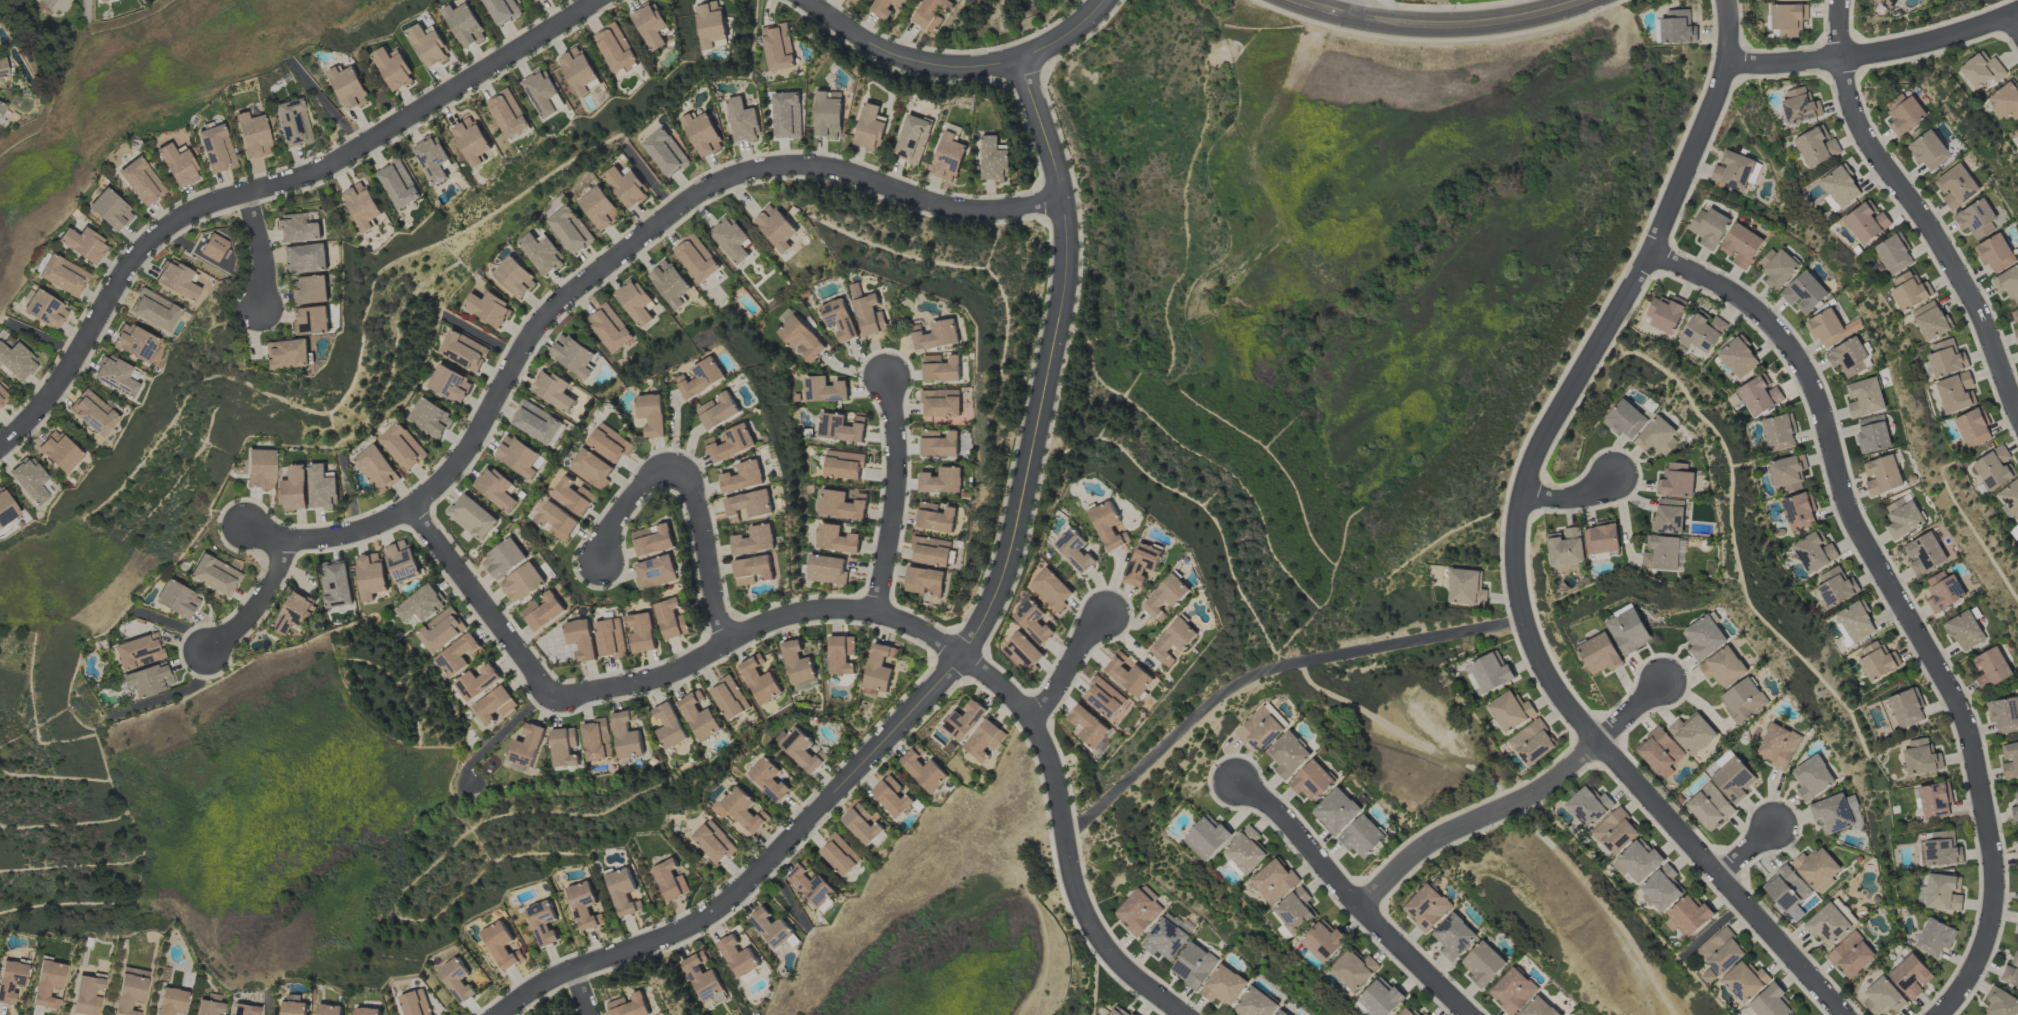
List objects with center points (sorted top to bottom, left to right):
building: (100, 0)
building: (532, 0)
building: (1790, 0)
building: (858, 1)
building: (1887, 3)
building: (55, 5)
building: (887, 6)
road: (1357, 7)
building: (502, 10)
building: (932, 14)
road: (2016, 16)
building: (1787, 19)
building: (464, 24)
building: (710, 24)
building: (651, 25)
road: (1446, 25)
building: (1677, 28)
building: (429, 46)
building: (615, 47)
building: (777, 47)
road: (1876, 52)
road: (959, 66)
building: (393, 68)
building: (3, 69)
building: (580, 71)
building: (1980, 71)
building: (349, 87)
building: (542, 92)
building: (2004, 102)
building: (1799, 106)
building: (1, 107)
building: (508, 113)
building: (827, 114)
building: (787, 115)
building: (1906, 115)
building: (742, 121)
building: (292, 123)
building: (870, 128)
building: (2016, 132)
building: (702, 134)
building: (252, 135)
building: (913, 139)
building: (472, 141)
building: (1816, 147)
building: (216, 149)
building: (1929, 150)
building: (665, 152)
building: (948, 157)
building: (433, 159)
building: (993, 160)
building: (177, 165)
building: (1732, 171)
building: (141, 181)
building: (399, 184)
building: (626, 187)
building: (1956, 187)
road: (265, 188)
building: (1839, 188)
road: (1918, 205)
building: (363, 206)
building: (599, 208)
building: (109, 210)
building: (1976, 219)
building: (1865, 223)
building: (776, 227)
building: (298, 228)
building: (1709, 228)
building: (570, 229)
building: (730, 239)
building: (83, 244)
building: (1741, 245)
building: (209, 247)
road: (261, 248)
building: (541, 252)
building: (1995, 253)
building: (1892, 255)
building: (696, 258)
building: (305, 259)
road: (609, 261)
building: (1778, 268)
building: (63, 275)
building: (514, 278)
building: (176, 280)
building: (669, 283)
building: (2008, 283)
building: (309, 290)
building: (1909, 291)
building: (1804, 293)
building: (635, 302)
building: (488, 308)
building: (45, 310)
building: (154, 310)
building: (868, 312)
building: (1665, 313)
building: (2016, 314)
building: (839, 320)
building: (310, 321)
building: (1930, 321)
building: (609, 327)
building: (1701, 333)
building: (2015, 333)
building: (937, 335)
building: (801, 339)
building: (134, 342)
building: (463, 351)
building: (287, 354)
building: (572, 355)
building: (1848, 357)
building: (1737, 358)
building: (1945, 358)
building: (16, 361)
building: (942, 368)
building: (115, 376)
building: (702, 378)
building: (449, 384)
building: (823, 389)
building: (553, 390)
building: (1954, 392)
building: (1759, 395)
building: (3, 396)
building: (1865, 397)
building: (941, 403)
building: (718, 410)
building: (92, 413)
building: (651, 414)
building: (430, 417)
building: (1625, 419)
building: (538, 423)
building: (840, 427)
building: (1972, 428)
building: (1778, 433)
building: (1873, 434)
building: (1657, 436)
building: (609, 443)
building: (731, 443)
building: (940, 443)
building: (402, 446)
building: (59, 451)
building: (519, 457)
building: (843, 465)
building: (591, 468)
building: (260, 469)
building: (377, 469)
building: (1994, 469)
building: (1785, 473)
building: (1883, 475)
building: (743, 477)
building: (30, 479)
building: (943, 480)
building: (1676, 481)
building: (321, 488)
building: (294, 489)
building: (495, 489)
road: (897, 492)
building: (573, 495)
building: (2010, 498)
road: (1573, 500)
building: (749, 505)
building: (841, 505)
building: (6, 507)
road: (628, 509)
building: (1797, 512)
building: (472, 516)
building: (1668, 516)
building: (936, 517)
building: (1904, 520)
building: (556, 521)
building: (1109, 526)
building: (2017, 527)
building: (1601, 538)
building: (653, 539)
building: (836, 539)
building: (754, 540)
road: (1516, 542)
building: (1565, 547)
road: (707, 551)
building: (931, 551)
building: (1075, 551)
building: (1814, 552)
building: (1660, 553)
building: (1925, 554)
building: (504, 559)
building: (401, 561)
building: (1144, 563)
building: (752, 569)
building: (826, 569)
building: (655, 572)
building: (215, 575)
building: (370, 575)
building: (924, 580)
building: (522, 582)
building: (336, 583)
building: (1834, 586)
building: (1465, 588)
building: (1051, 590)
building: (1944, 591)
building: (1167, 596)
building: (176, 599)
road: (1901, 601)
building: (421, 604)
road: (487, 604)
road: (257, 605)
building: (543, 610)
building: (295, 613)
building: (672, 618)
building: (1033, 622)
building: (1855, 622)
building: (440, 630)
building: (1964, 630)
building: (1628, 631)
building: (641, 632)
building: (610, 638)
building: (1704, 638)
building: (581, 639)
building: (1176, 642)
road: (973, 648)
building: (1021, 651)
building: (138, 652)
building: (1599, 653)
building: (457, 654)
building: (841, 655)
road: (966, 659)
building: (1877, 662)
building: (797, 663)
road: (1068, 664)
building: (1723, 667)
building: (1991, 668)
building: (878, 669)
road: (1268, 670)
building: (1490, 672)
building: (1130, 675)
building: (148, 680)
building: (759, 680)
building: (475, 683)
building: (729, 698)
building: (1743, 700)
building: (1106, 701)
building: (494, 705)
building: (1906, 709)
building: (1510, 711)
building: (2004, 715)
building: (698, 716)
building: (964, 718)
building: (1089, 726)
building: (1261, 728)
building: (1692, 733)
building: (626, 734)
building: (984, 739)
building: (596, 740)
building: (1532, 743)
building: (526, 746)
building: (1778, 746)
building: (563, 747)
building: (801, 750)
building: (1659, 752)
building: (1288, 755)
building: (1920, 757)
building: (2010, 761)
building: (924, 770)
building: (1812, 777)
building: (1732, 778)
building: (769, 779)
building: (1312, 781)
building: (893, 797)
building: (1934, 801)
road: (1515, 802)
building: (1588, 806)
building: (1709, 807)
building: (2015, 808)
building: (740, 810)
building: (1336, 811)
building: (1832, 814)
building: (862, 824)
building: (1615, 831)
building: (1363, 837)
building: (1205, 838)
building: (714, 842)
road: (1750, 849)
building: (1943, 849)
building: (1245, 851)
building: (840, 855)
building: (2017, 856)
building: (1639, 860)
building: (1817, 868)
building: (670, 880)
building: (1273, 881)
building: (811, 884)
building: (1662, 888)
building: (1786, 889)
building: (623, 892)
building: (1944, 893)
road: (1352, 898)
building: (584, 906)
building: (1426, 907)
building: (1139, 910)
building: (1294, 910)
building: (1687, 916)
building: (542, 922)
building: (2017, 922)
building: (1829, 924)
building: (773, 929)
building: (1453, 936)
building: (1933, 937)
building: (1165, 939)
building: (1322, 941)
building: (501, 945)
building: (1720, 951)
building: (1851, 955)
building: (738, 957)
building: (1483, 964)
building: (1194, 966)
building: (1353, 970)
building: (2011, 972)
building: (1910, 976)
building: (703, 979)
building: (10, 980)
building: (457, 980)
building: (1745, 982)
building: (47, 983)
building: (1225, 986)
building: (130, 990)
road: (586, 991)
building: (1512, 991)
building: (87, 995)
building: (1880, 997)
building: (1380, 998)
building: (171, 1001)
building: (1770, 1002)
building: (2000, 1002)
building: (416, 1003)
building: (1257, 1003)
building: (630, 1005)
building: (210, 1006)
building: (294, 1008)
building: (1538, 1008)
building: (329, 1009)
building: (244, 1010)
building: (368, 1011)
building: (1118, 1011)
building: (1282, 1012)
building: (1406, 1012)
building: (1425, 1014)

